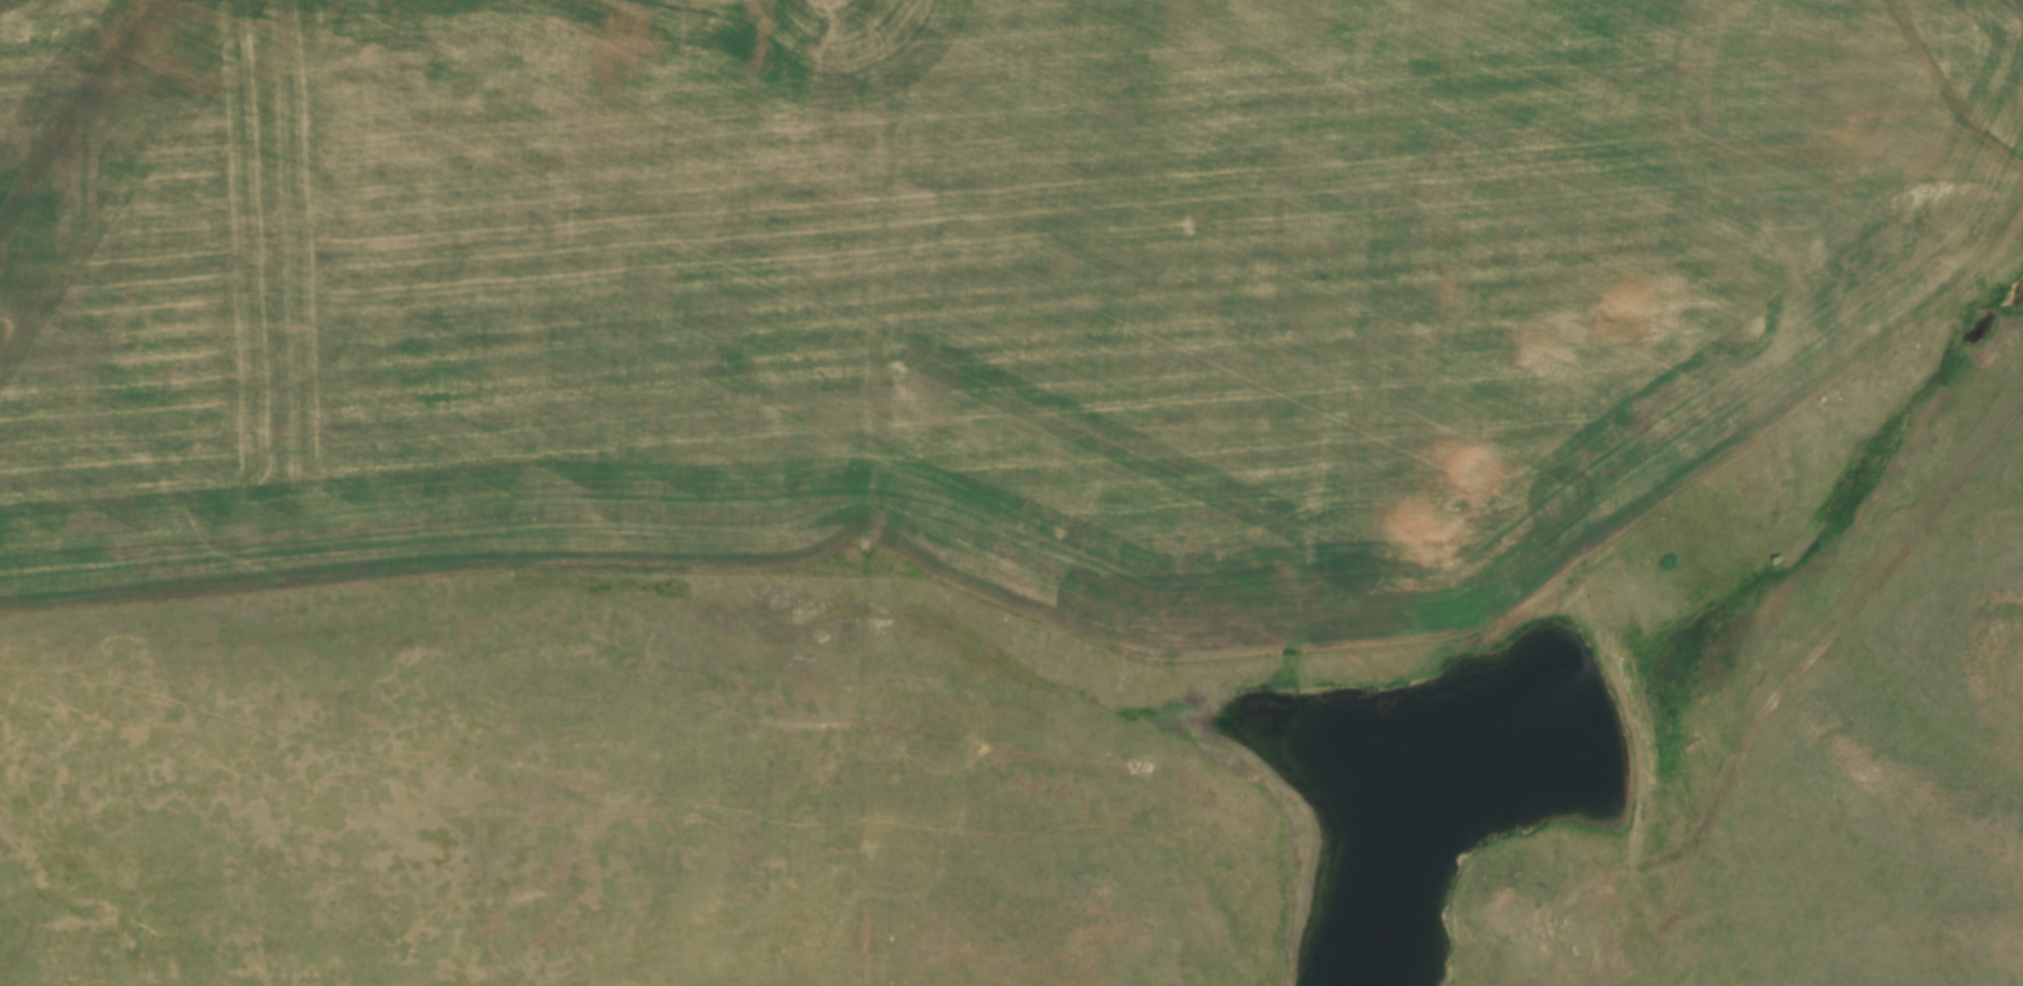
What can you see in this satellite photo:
road: (1953, 128)

